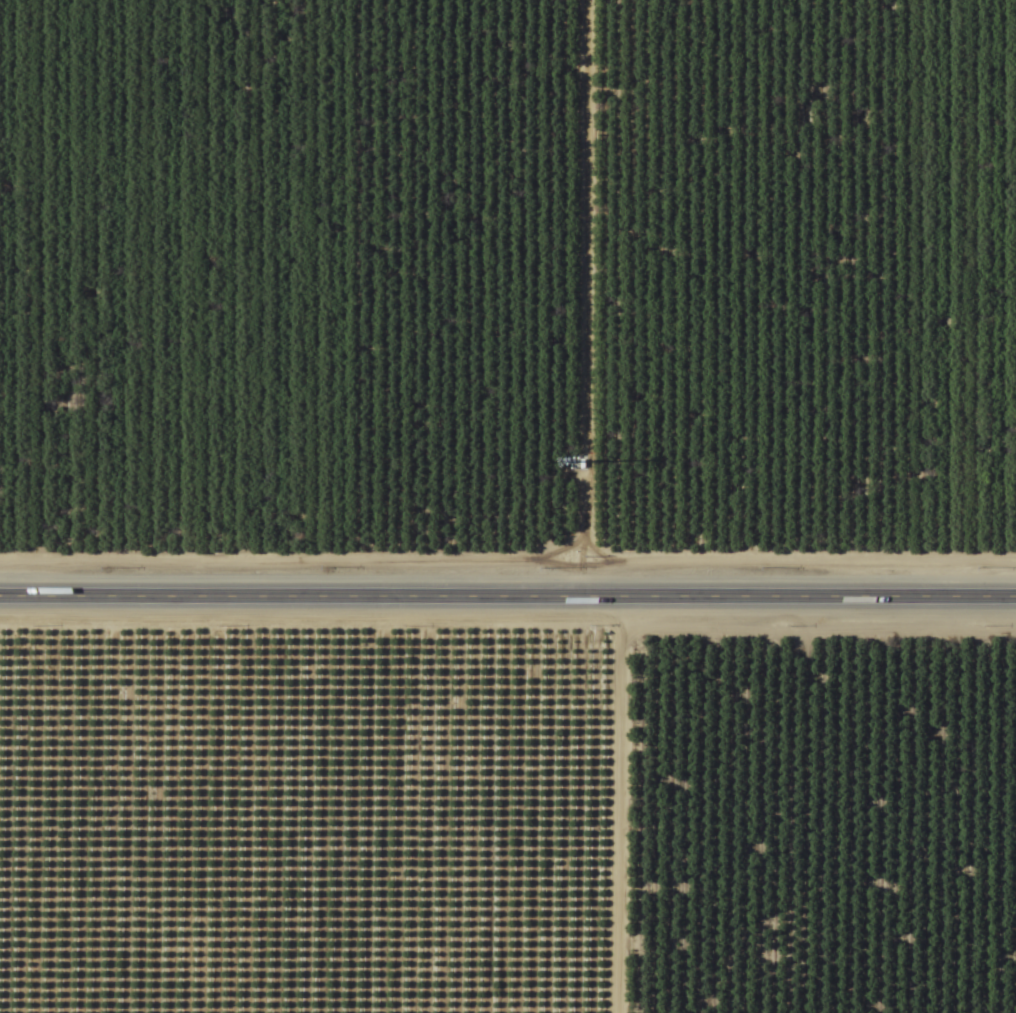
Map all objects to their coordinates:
road: (508, 597)
road: (521, 805)
crop: (508, 819)

